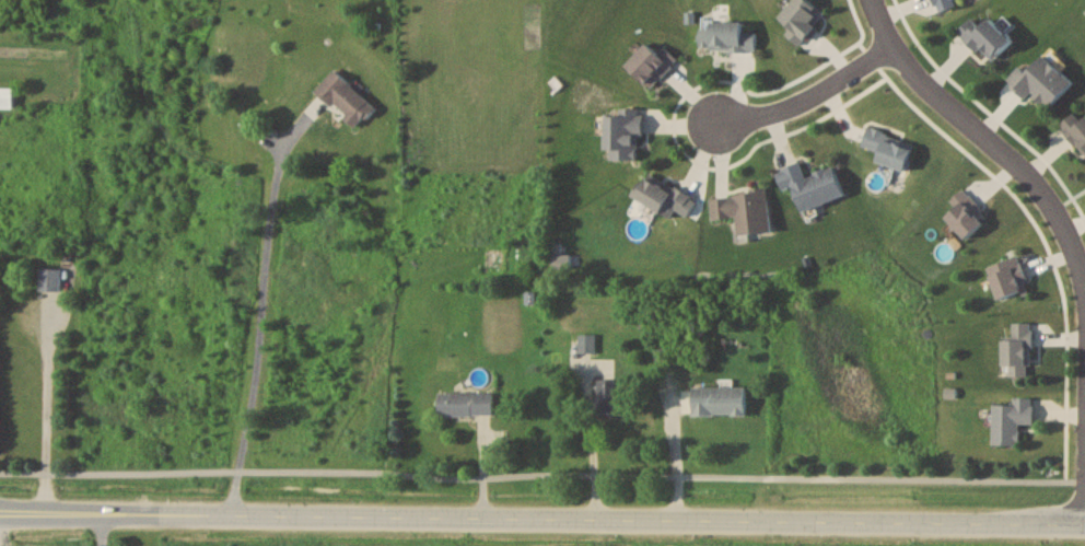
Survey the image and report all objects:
building: (944, 4)
building: (725, 36)
building: (987, 37)
building: (651, 63)
building: (1041, 81)
building: (5, 96)
road: (809, 96)
building: (343, 97)
building: (1075, 128)
building: (622, 135)
road: (985, 135)
building: (888, 148)
building: (810, 184)
building: (662, 196)
building: (743, 209)
building: (965, 213)
building: (1008, 276)
building: (49, 278)
road: (258, 306)
building: (586, 341)
building: (1017, 349)
building: (608, 396)
building: (719, 399)
building: (464, 403)
road: (46, 405)
building: (1011, 418)
road: (590, 457)
road: (541, 474)
road: (542, 515)
road: (96, 528)

